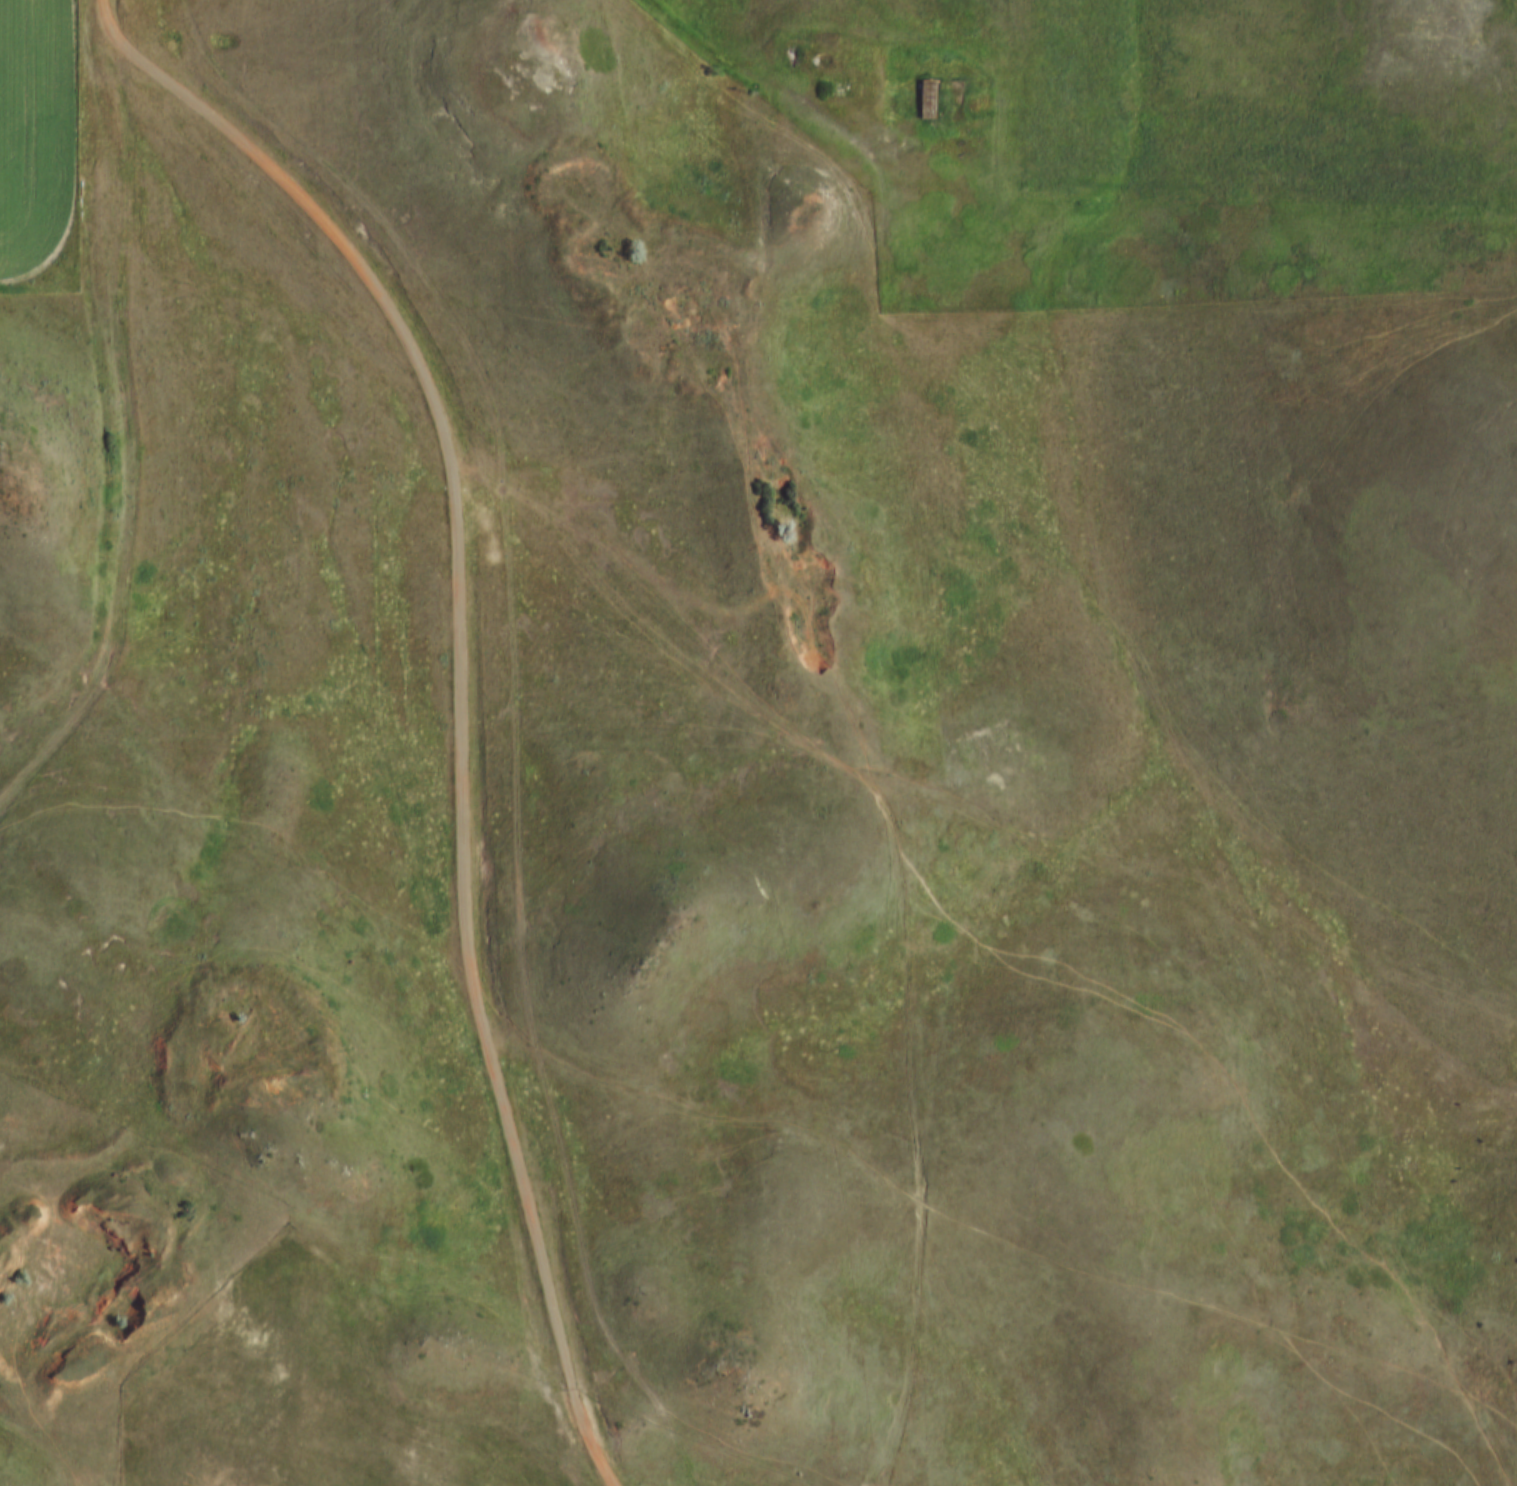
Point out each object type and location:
road: (102, 2)
building: (930, 98)
road: (460, 688)
quarry: (244, 1029)
quarry: (80, 1272)

